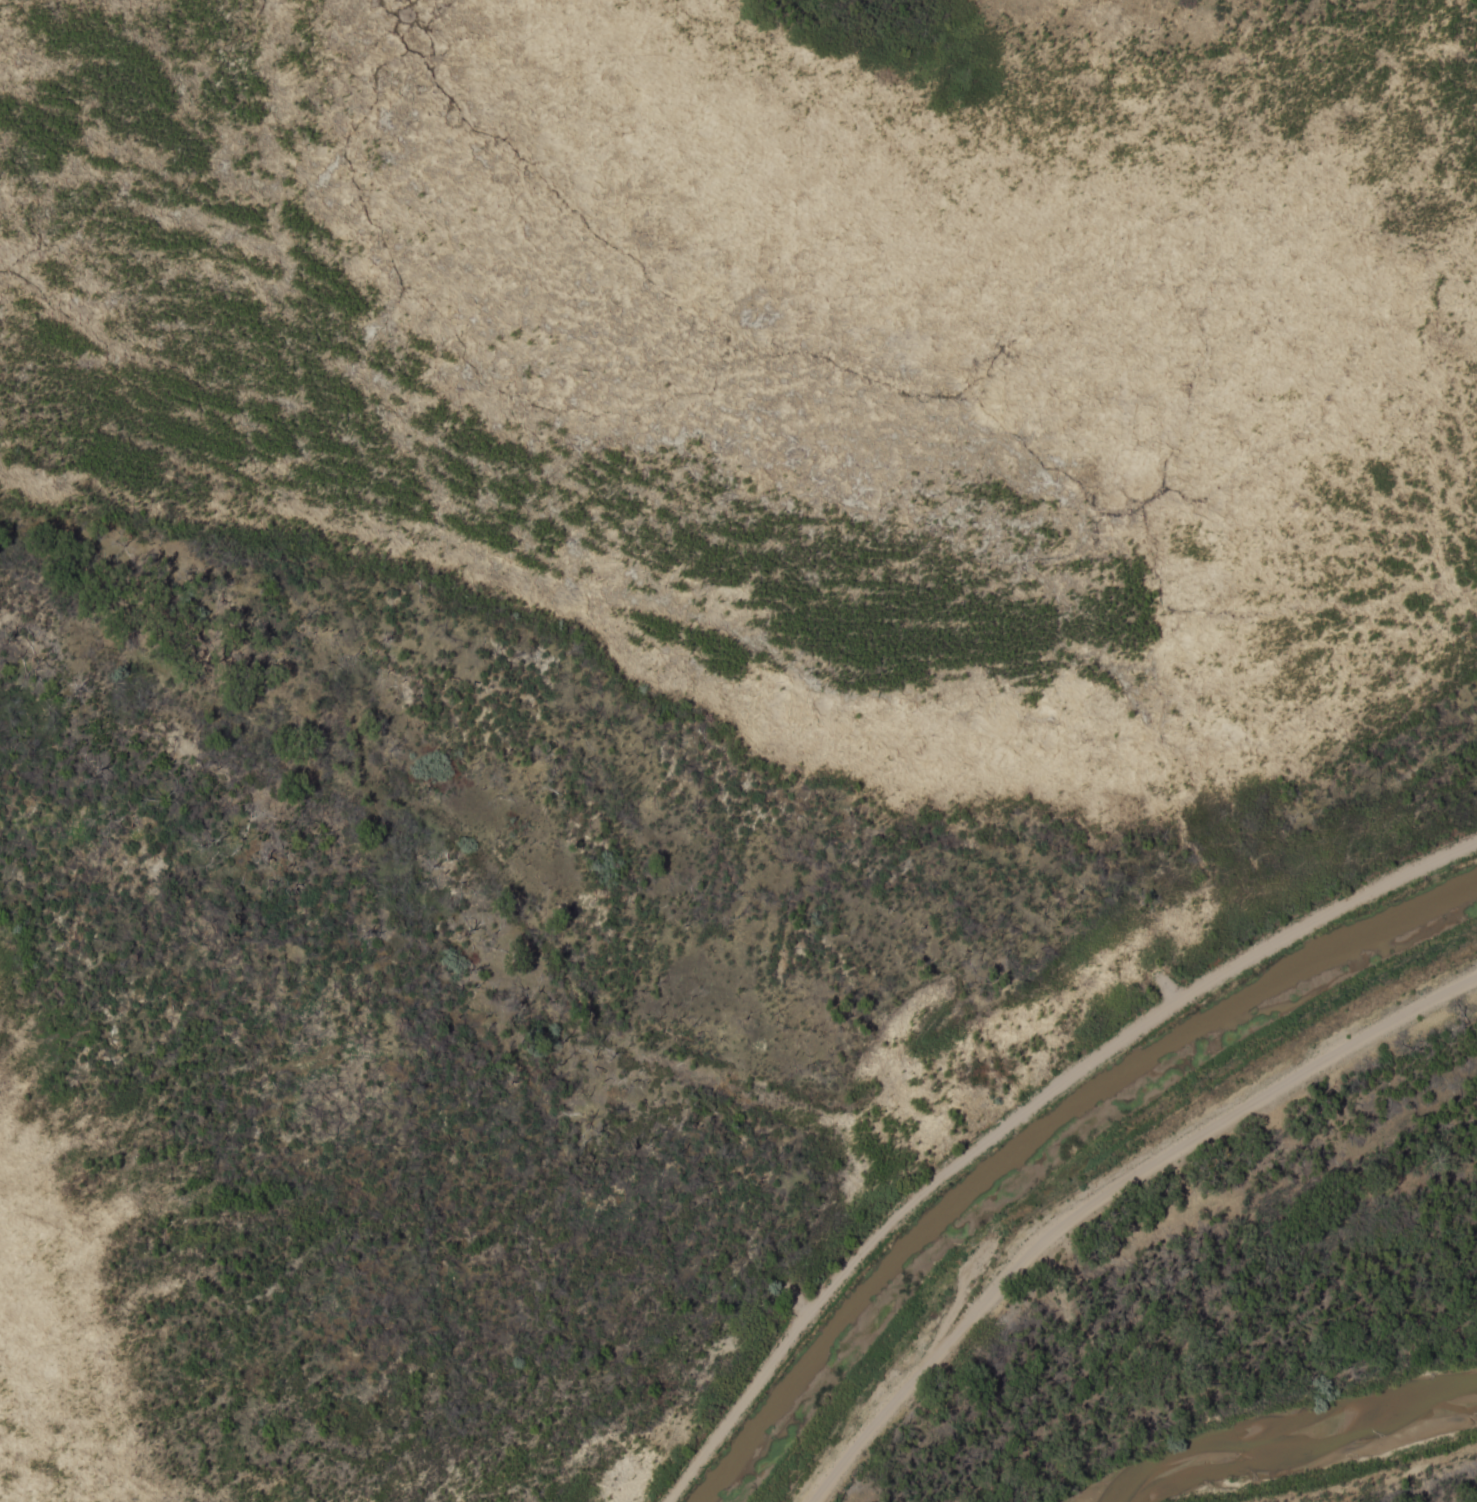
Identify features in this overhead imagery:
road: (1017, 1109)
road: (1103, 1191)
river: (1283, 1435)

